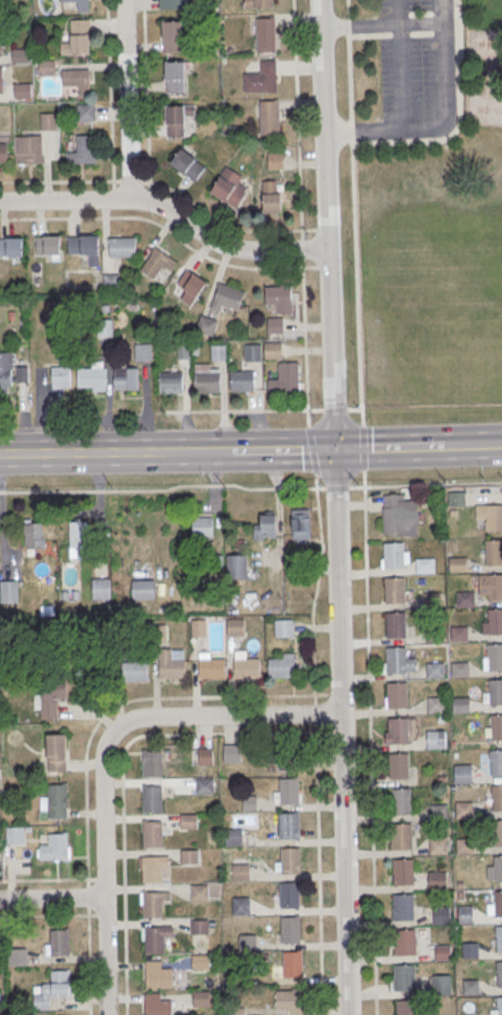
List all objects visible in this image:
building: (73, 4)
building: (172, 4)
building: (265, 4)
building: (1, 9)
road: (411, 25)
road: (349, 26)
building: (79, 35)
building: (266, 36)
building: (173, 38)
building: (1, 44)
building: (19, 55)
parking lot: (408, 60)
road: (401, 65)
building: (46, 66)
building: (175, 77)
building: (75, 79)
building: (263, 79)
building: (1, 81)
building: (22, 90)
road: (446, 91)
road: (110, 94)
road: (147, 94)
road: (126, 100)
building: (85, 111)
road: (458, 117)
road: (297, 118)
building: (270, 119)
building: (48, 121)
building: (176, 122)
road: (357, 133)
building: (28, 148)
building: (83, 149)
building: (3, 154)
building: (274, 159)
building: (187, 164)
road: (60, 180)
road: (131, 180)
building: (229, 186)
road: (113, 194)
road: (150, 197)
building: (272, 198)
road: (168, 211)
road: (355, 211)
road: (222, 222)
road: (163, 225)
road: (325, 225)
road: (327, 229)
building: (47, 244)
building: (86, 244)
building: (11, 246)
building: (122, 247)
road: (302, 248)
building: (156, 262)
road: (322, 266)
building: (111, 280)
building: (190, 285)
road: (303, 294)
building: (227, 297)
building: (279, 297)
building: (206, 325)
building: (275, 325)
building: (273, 350)
building: (143, 352)
building: (253, 352)
building: (219, 353)
building: (5, 372)
building: (61, 377)
building: (286, 377)
building: (96, 378)
building: (126, 378)
road: (306, 378)
building: (207, 381)
building: (241, 381)
building: (171, 382)
road: (334, 408)
road: (354, 408)
road: (242, 409)
road: (483, 445)
road: (362, 446)
road: (444, 447)
road: (378, 449)
road: (311, 450)
road: (292, 451)
traffic signals: (333, 451)
road: (222, 452)
road: (96, 454)
road: (426, 484)
road: (336, 486)
road: (162, 489)
building: (456, 498)
building: (489, 517)
building: (393, 519)
building: (202, 525)
building: (300, 525)
building: (265, 528)
building: (33, 537)
building: (77, 538)
building: (493, 551)
building: (394, 555)
building: (457, 563)
building: (424, 564)
building: (236, 568)
building: (100, 586)
building: (490, 586)
road: (316, 588)
building: (143, 590)
building: (395, 590)
building: (9, 592)
building: (465, 598)
building: (432, 599)
road: (366, 606)
building: (492, 621)
building: (396, 624)
building: (199, 628)
building: (236, 628)
building: (284, 628)
building: (159, 632)
building: (458, 633)
building: (434, 634)
building: (494, 657)
building: (397, 660)
building: (170, 666)
building: (212, 668)
building: (247, 668)
building: (281, 668)
building: (435, 669)
building: (459, 669)
building: (135, 671)
building: (495, 692)
road: (333, 694)
building: (397, 695)
building: (49, 697)
road: (125, 701)
building: (435, 704)
building: (460, 704)
road: (314, 711)
building: (496, 727)
road: (333, 731)
building: (398, 731)
road: (340, 733)
building: (435, 738)
building: (56, 752)
building: (232, 754)
building: (205, 755)
road: (101, 757)
building: (153, 763)
building: (495, 763)
building: (400, 765)
building: (463, 773)
road: (122, 776)
building: (205, 786)
building: (289, 791)
building: (497, 797)
building: (153, 799)
building: (400, 801)
building: (57, 802)
building: (250, 803)
building: (464, 809)
building: (438, 811)
building: (189, 821)
building: (289, 826)
building: (497, 833)
building: (153, 834)
building: (14, 835)
building: (401, 836)
building: (233, 838)
building: (437, 844)
building: (464, 845)
building: (55, 848)
building: (189, 857)
building: (290, 861)
road: (318, 869)
building: (498, 869)
building: (151, 870)
building: (403, 871)
building: (241, 872)
road: (375, 877)
road: (47, 879)
road: (99, 879)
building: (437, 880)
building: (199, 893)
road: (88, 896)
building: (289, 896)
road: (52, 898)
building: (498, 904)
building: (153, 905)
building: (241, 906)
building: (403, 907)
road: (100, 914)
building: (440, 914)
building: (465, 914)
road: (48, 915)
building: (199, 927)
building: (290, 930)
building: (498, 939)
building: (155, 940)
building: (60, 942)
building: (247, 942)
building: (405, 942)
building: (469, 949)
building: (17, 956)
road: (88, 960)
building: (200, 963)
building: (292, 963)
building: (499, 974)
building: (158, 976)
building: (404, 978)
building: (61, 984)
building: (442, 986)
building: (470, 986)
building: (201, 998)
building: (290, 1001)
building: (157, 1005)
building: (499, 1006)
building: (406, 1007)
building: (237, 1011)

